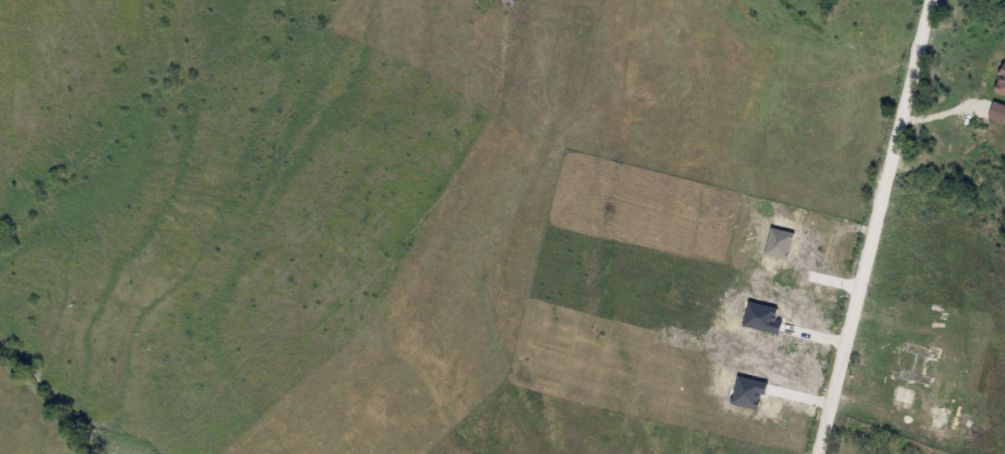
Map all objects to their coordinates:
road: (845, 46)
road: (953, 111)
road: (873, 226)

